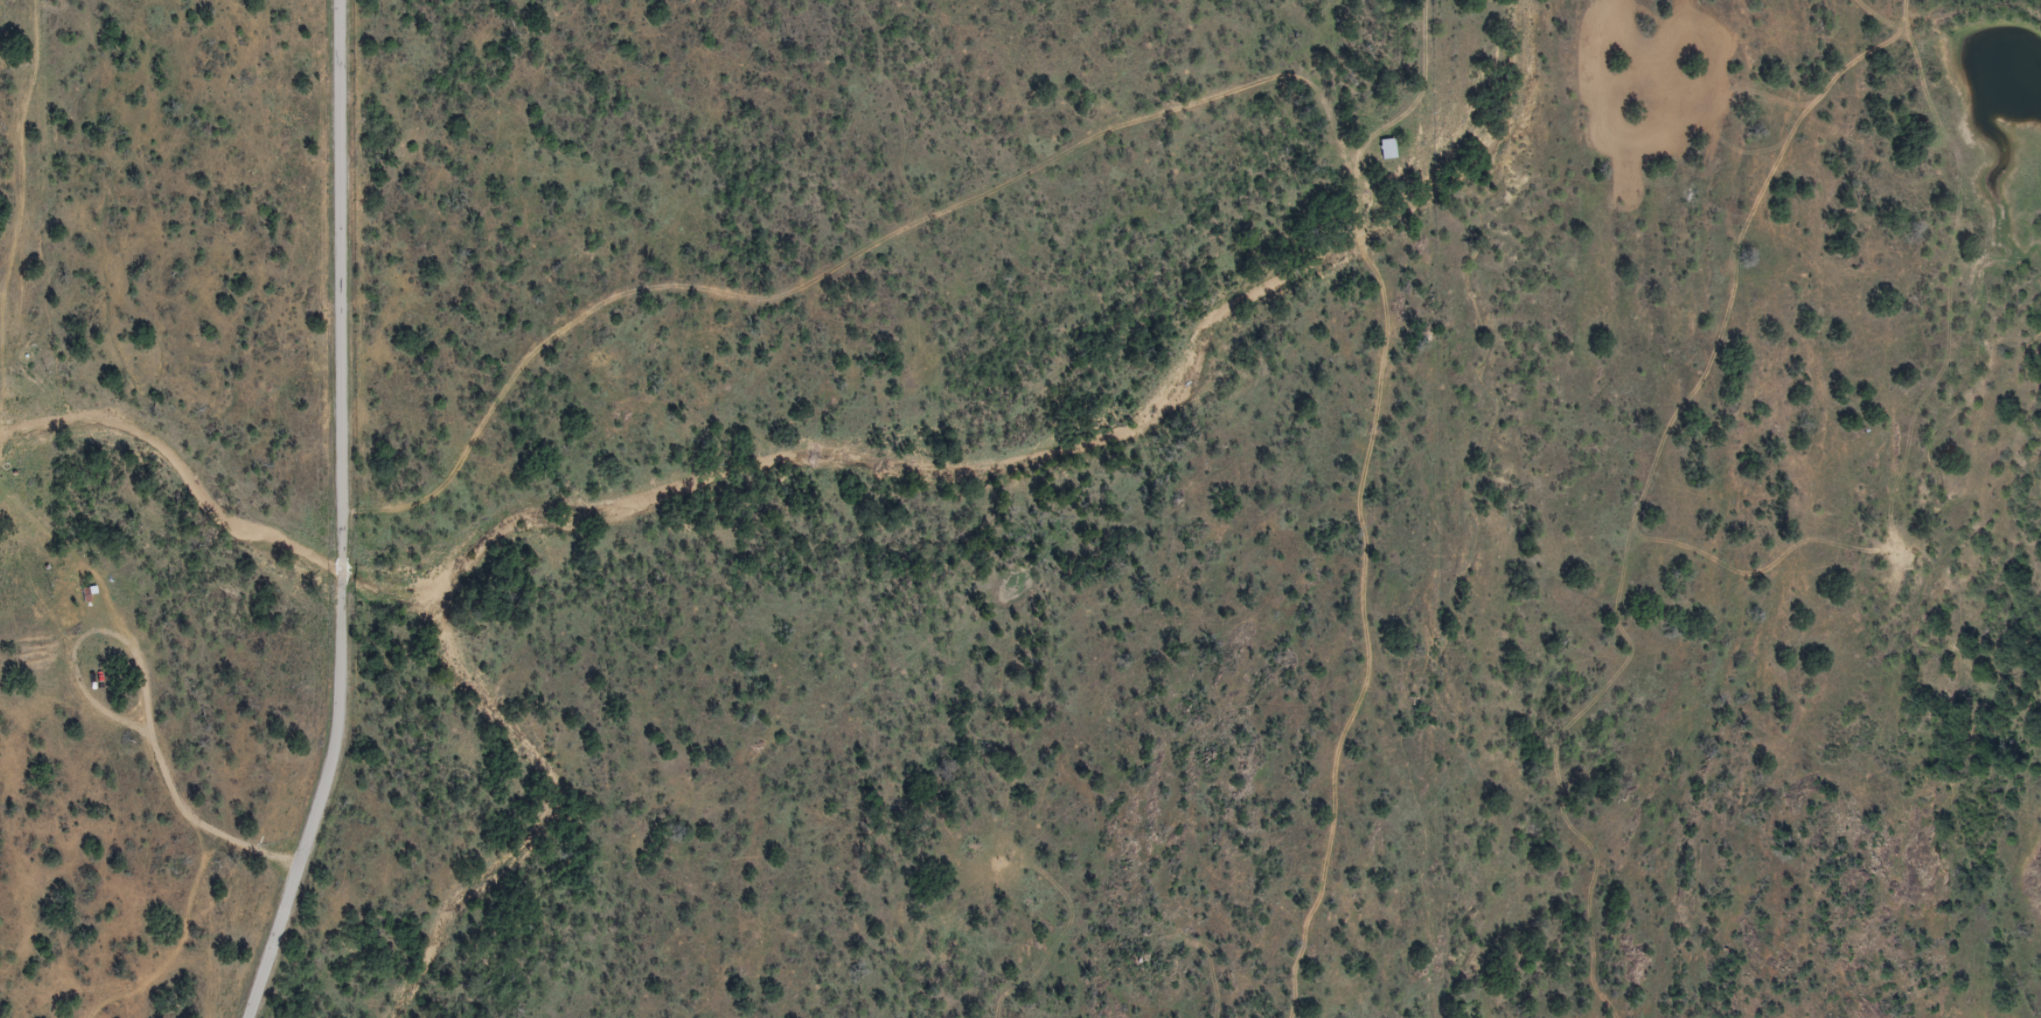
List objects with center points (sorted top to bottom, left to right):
building: (1385, 150)
road: (344, 516)

